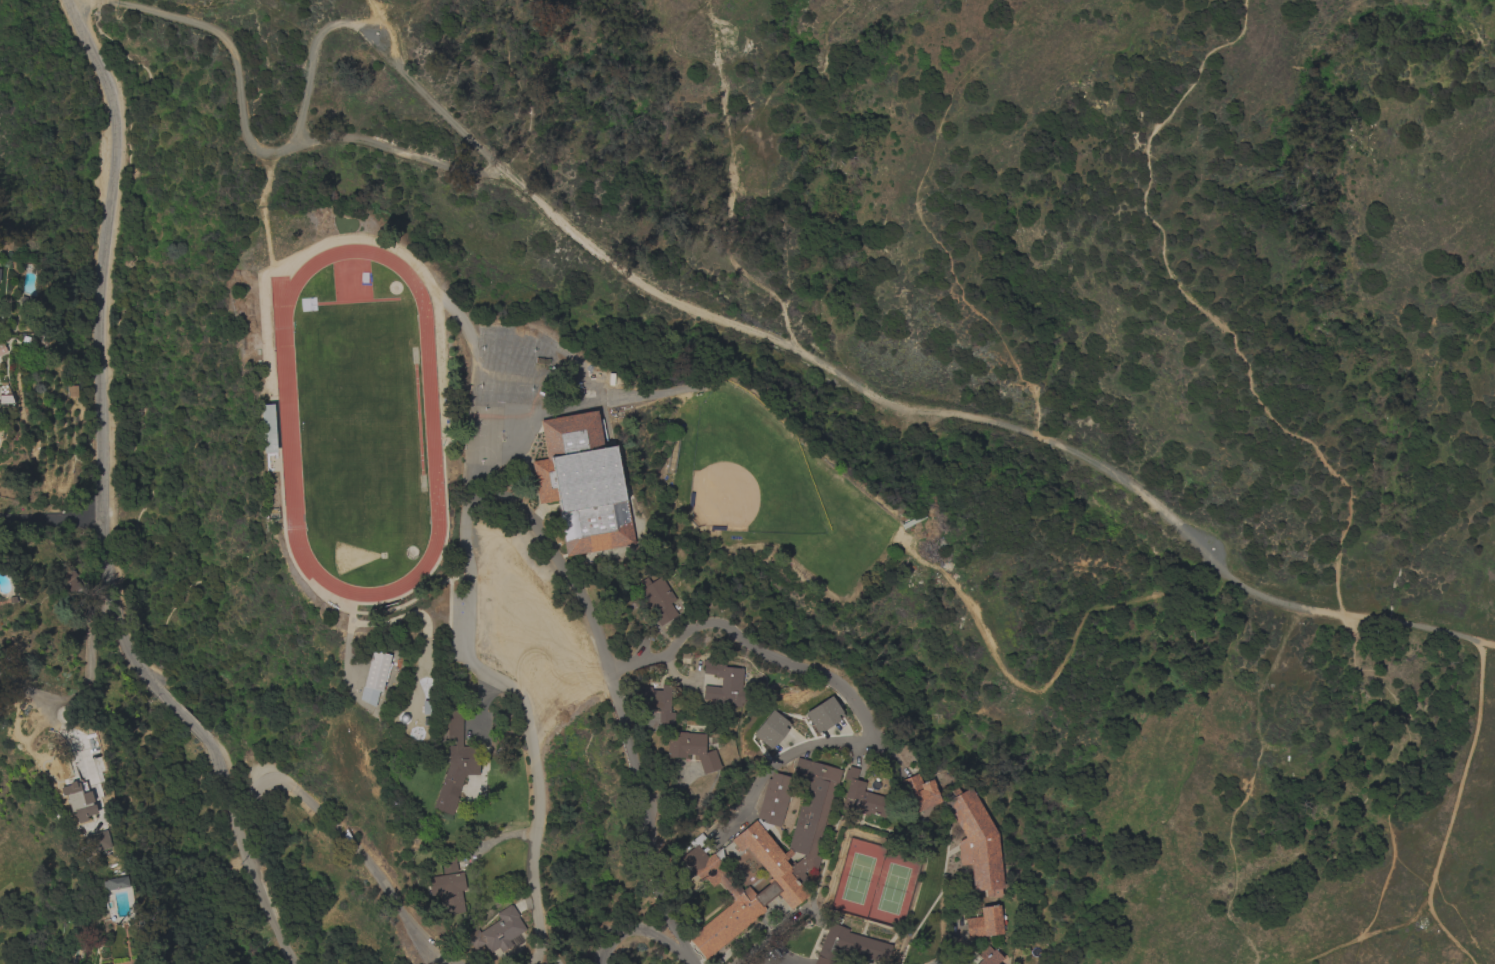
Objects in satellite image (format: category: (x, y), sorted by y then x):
road: (386, 35)
road: (233, 49)
road: (734, 57)
road: (400, 153)
road: (727, 160)
road: (758, 162)
road: (1196, 309)
building: (2, 348)
road: (998, 422)
building: (267, 428)
building: (583, 483)
road: (101, 504)
road: (50, 523)
road: (564, 575)
building: (657, 598)
road: (462, 635)
road: (775, 659)
building: (375, 677)
building: (723, 686)
road: (83, 691)
building: (656, 701)
building: (822, 714)
building: (770, 729)
building: (691, 749)
building: (455, 763)
road: (777, 763)
road: (537, 772)
building: (918, 792)
building: (861, 796)
building: (78, 801)
road: (645, 807)
road: (332, 823)
building: (97, 841)
building: (975, 843)
building: (766, 853)
building: (448, 864)
building: (115, 883)
building: (447, 891)
building: (984, 922)
road: (957, 926)
building: (499, 932)
road: (646, 933)
building: (849, 946)
building: (988, 956)
road: (434, 961)

